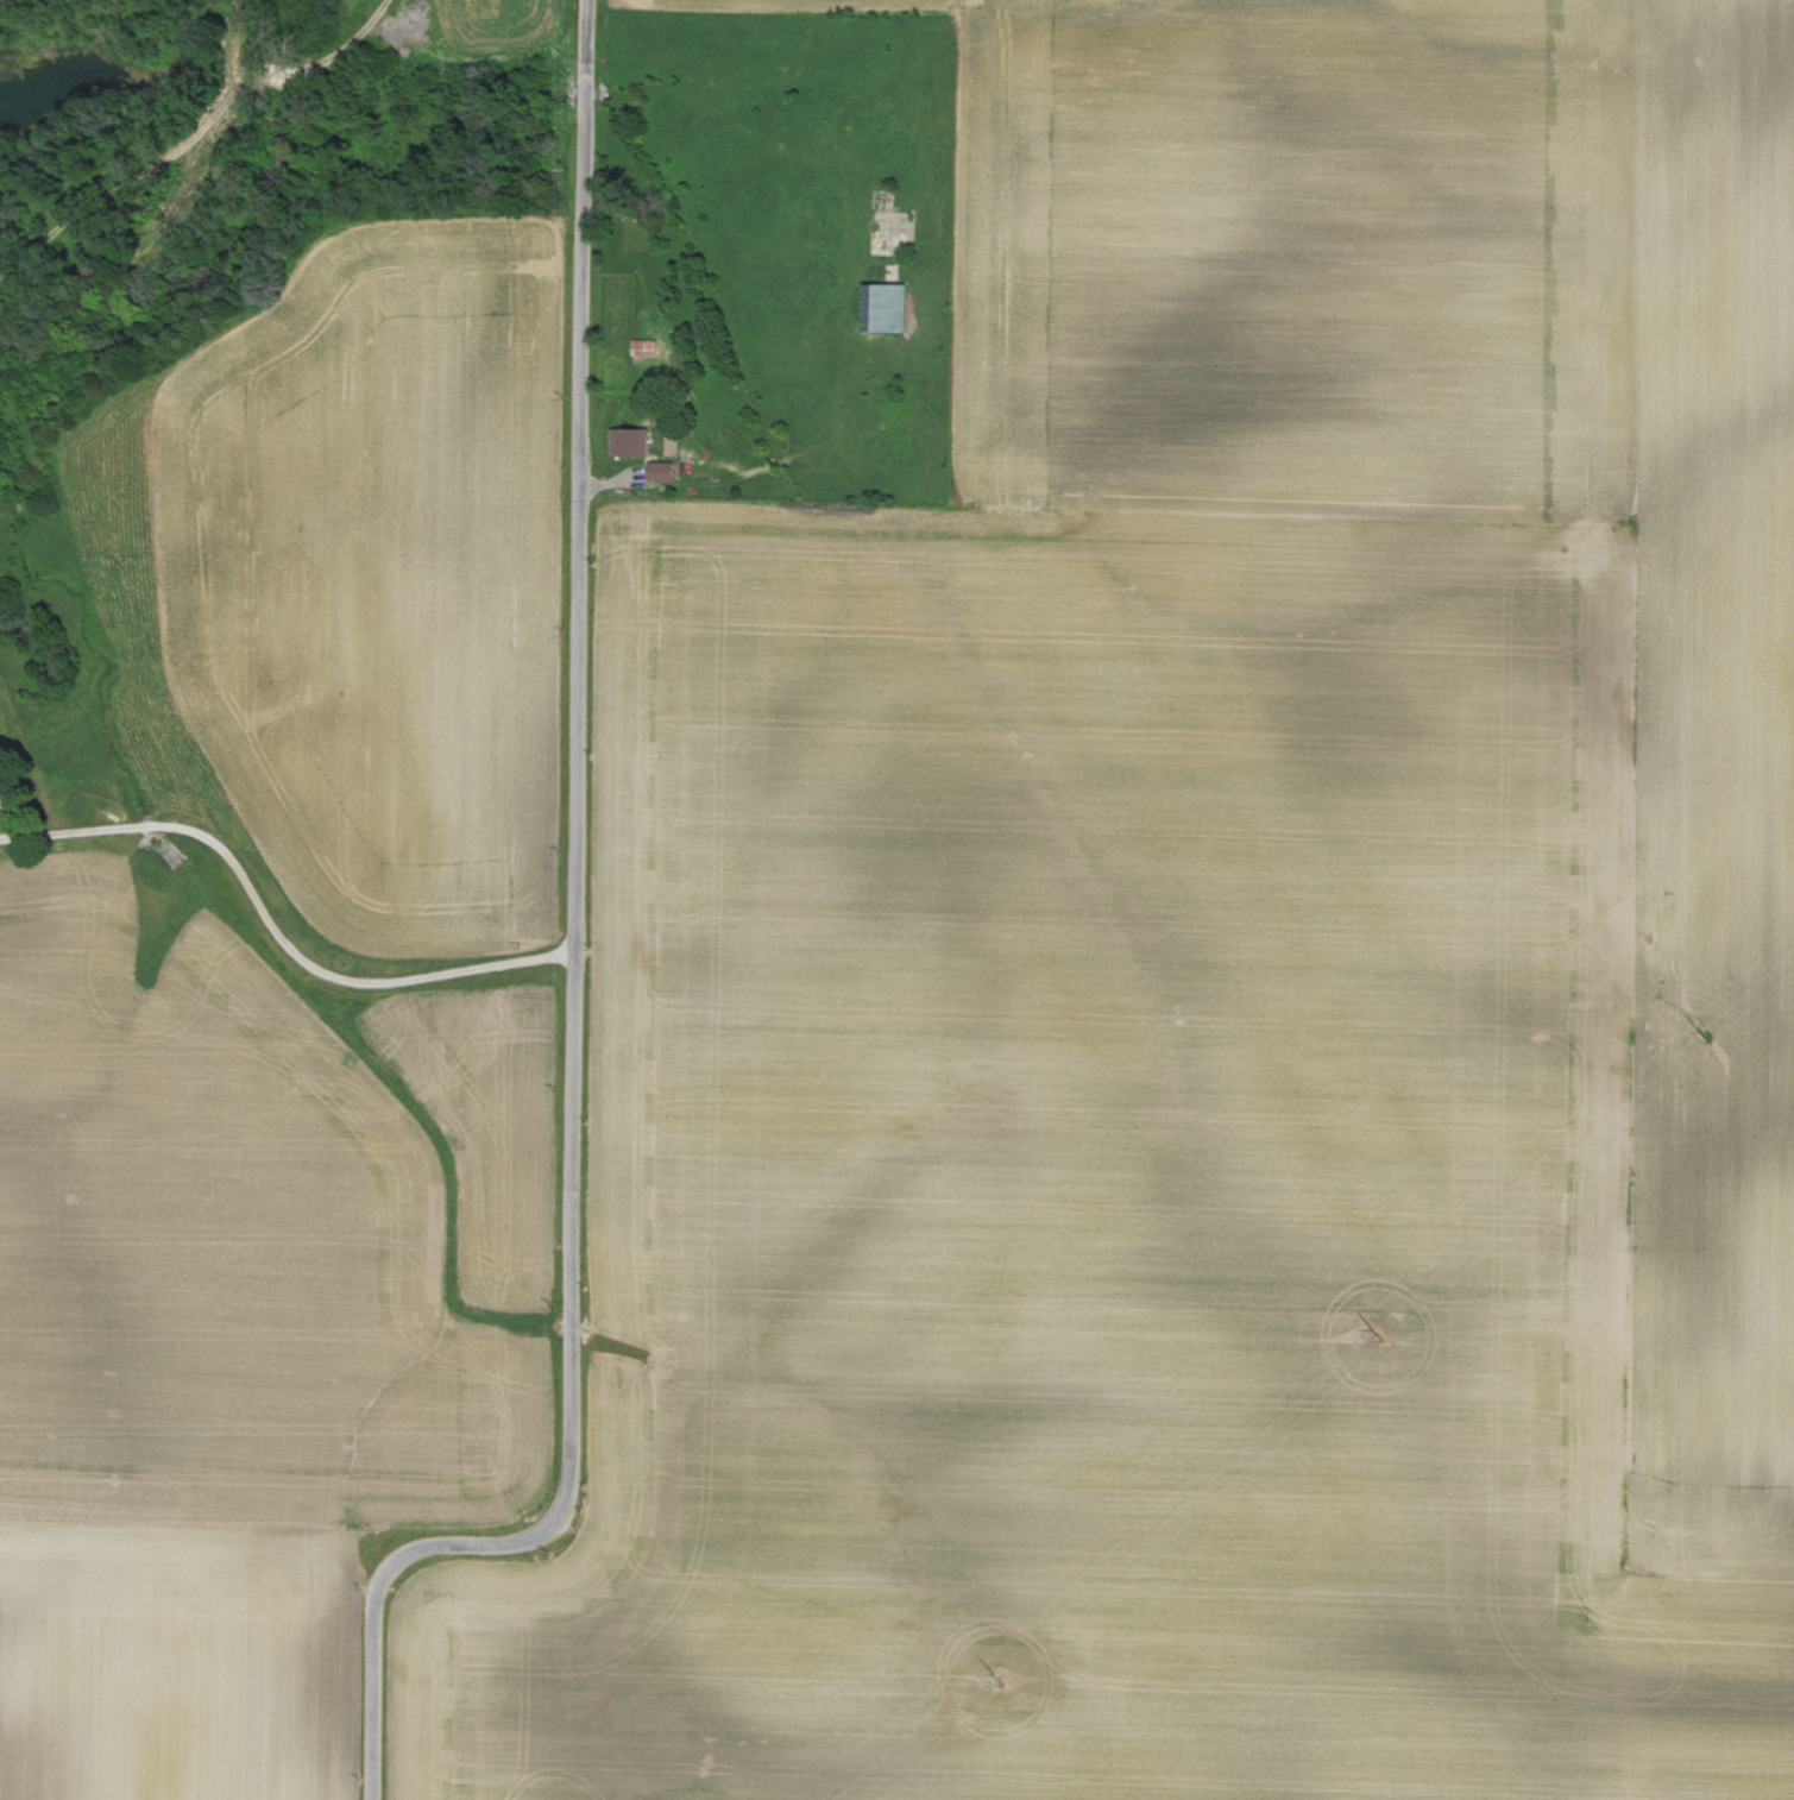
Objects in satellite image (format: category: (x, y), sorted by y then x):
building: (892, 307)
building: (1, 801)
road: (277, 927)
road: (577, 970)
power tower: (1706, 1039)
power tower: (1380, 1339)
power tower: (1007, 1680)

